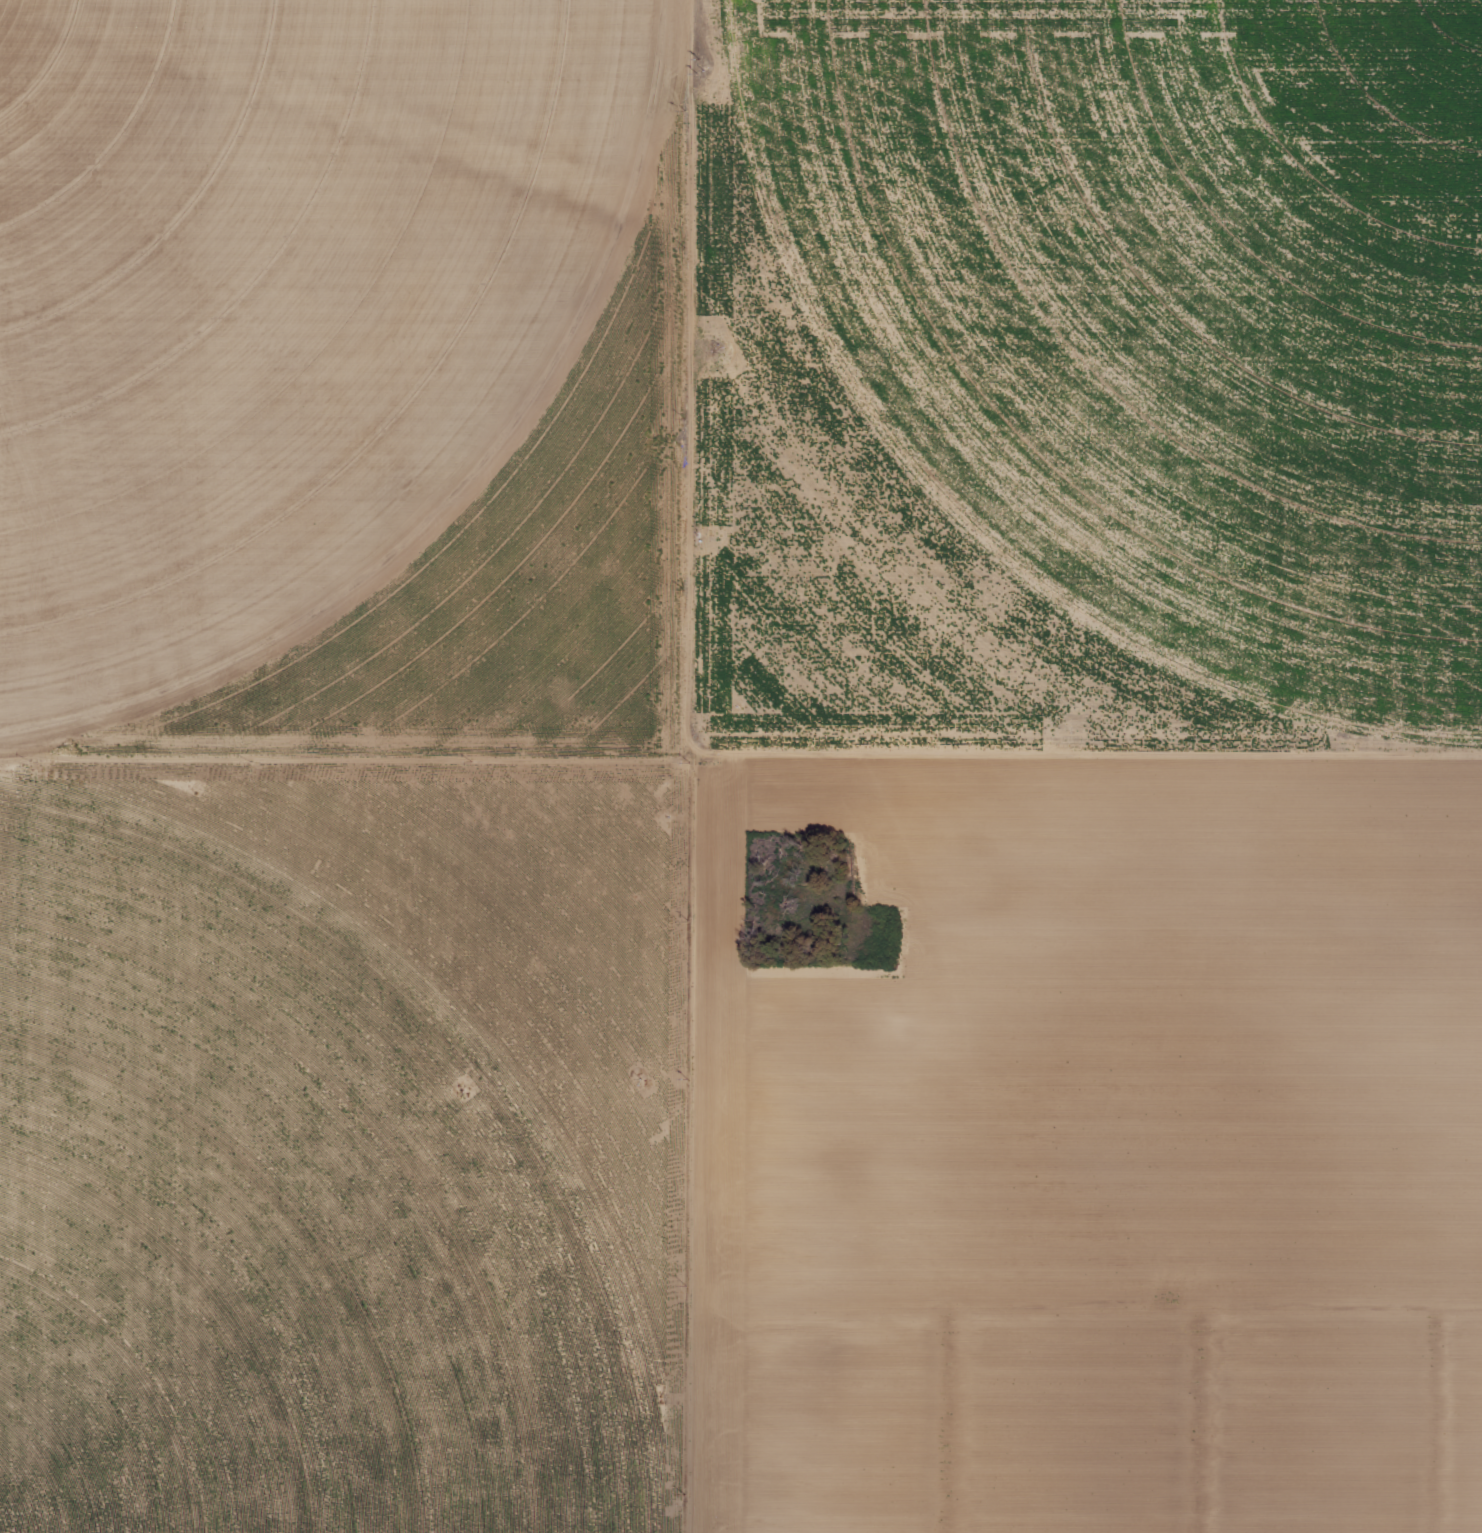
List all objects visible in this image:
road: (349, 744)
road: (699, 766)

